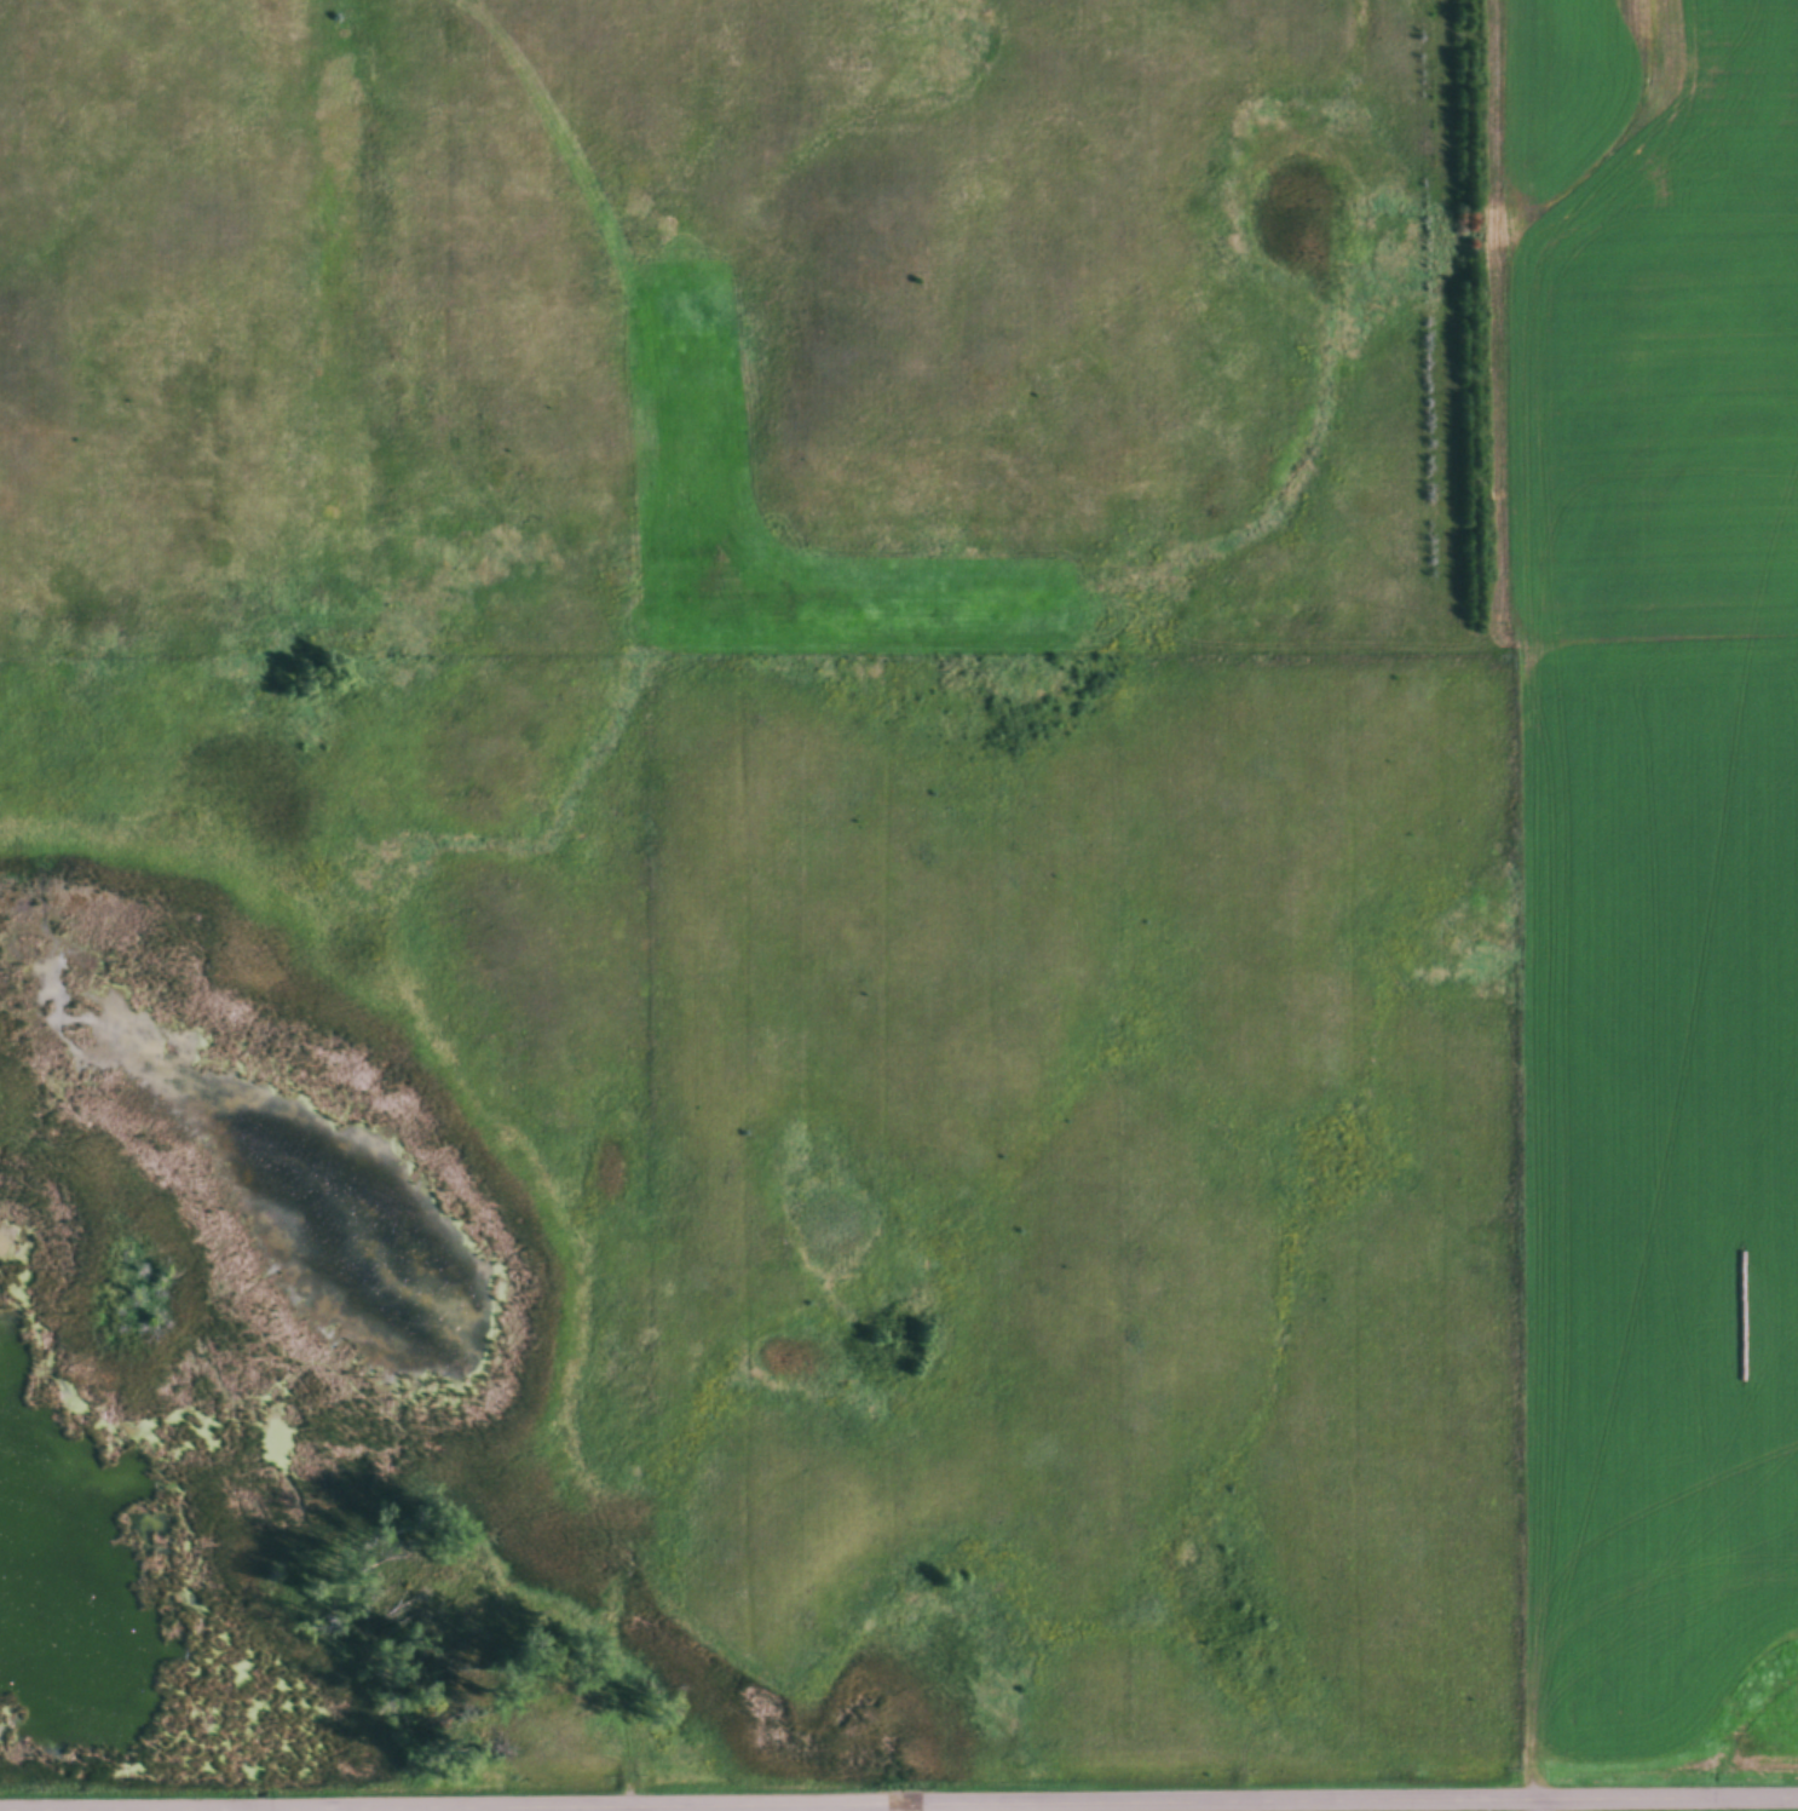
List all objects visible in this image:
river: (100, 1442)
river: (215, 1564)
road: (898, 1799)
road: (1538, 1803)

